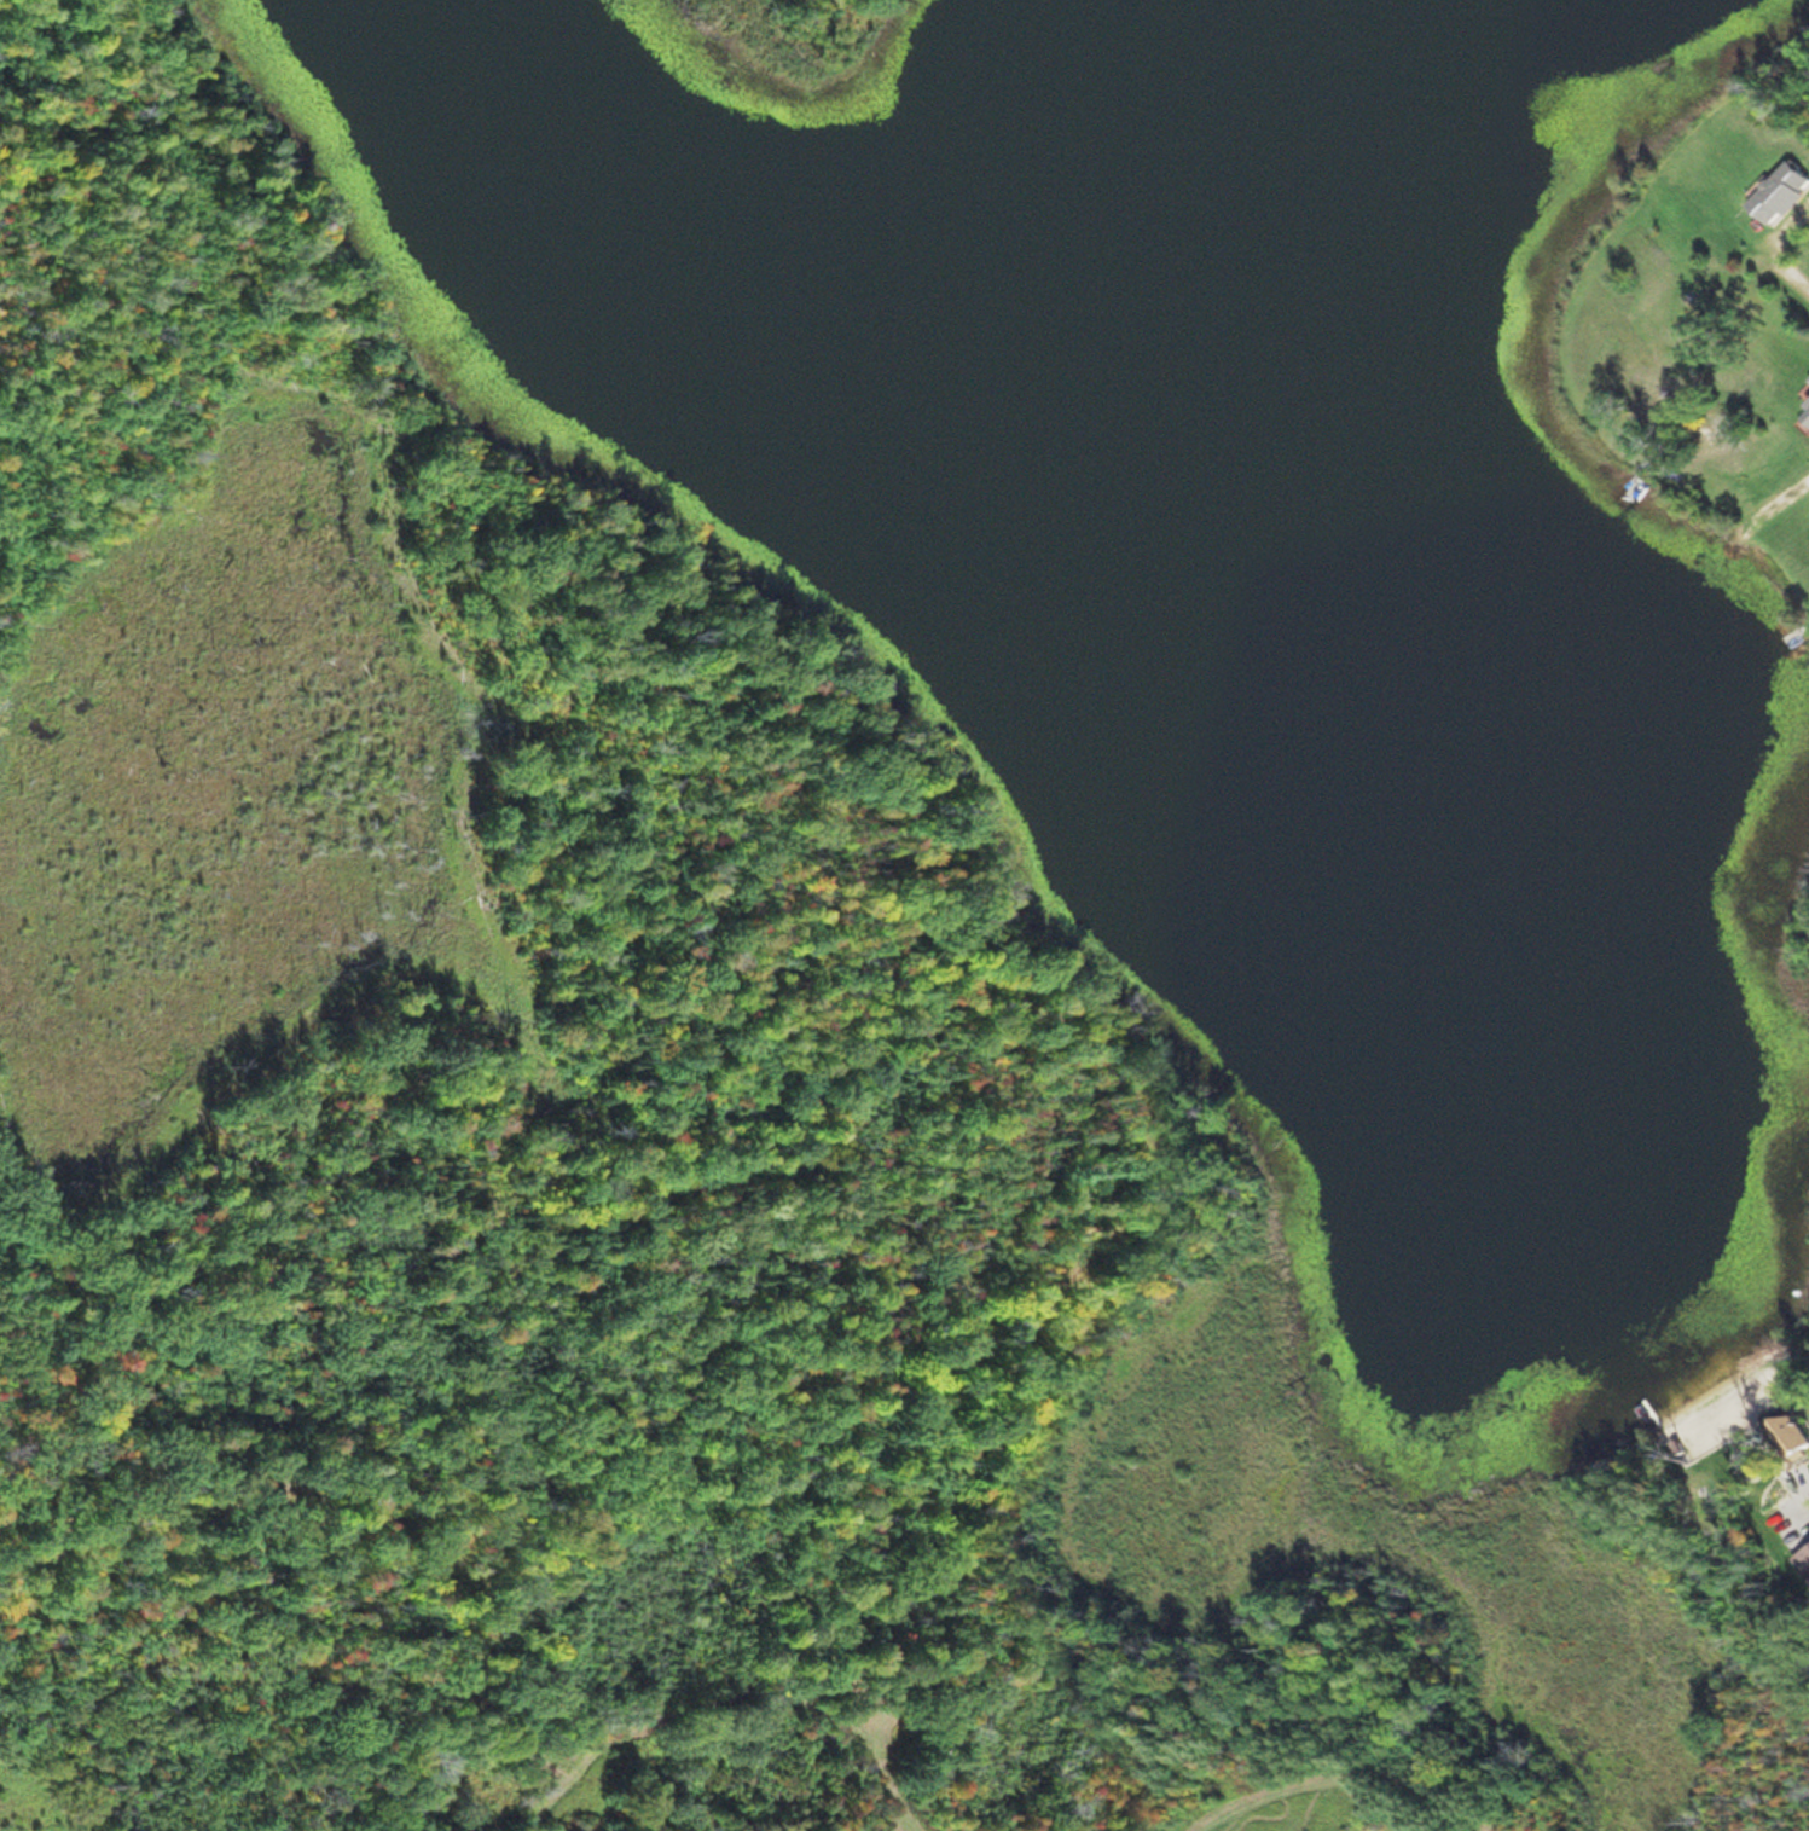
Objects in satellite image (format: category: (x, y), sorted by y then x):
building: (1780, 192)
building: (1808, 379)
building: (1808, 402)
building: (1804, 422)
building: (1805, 1563)

